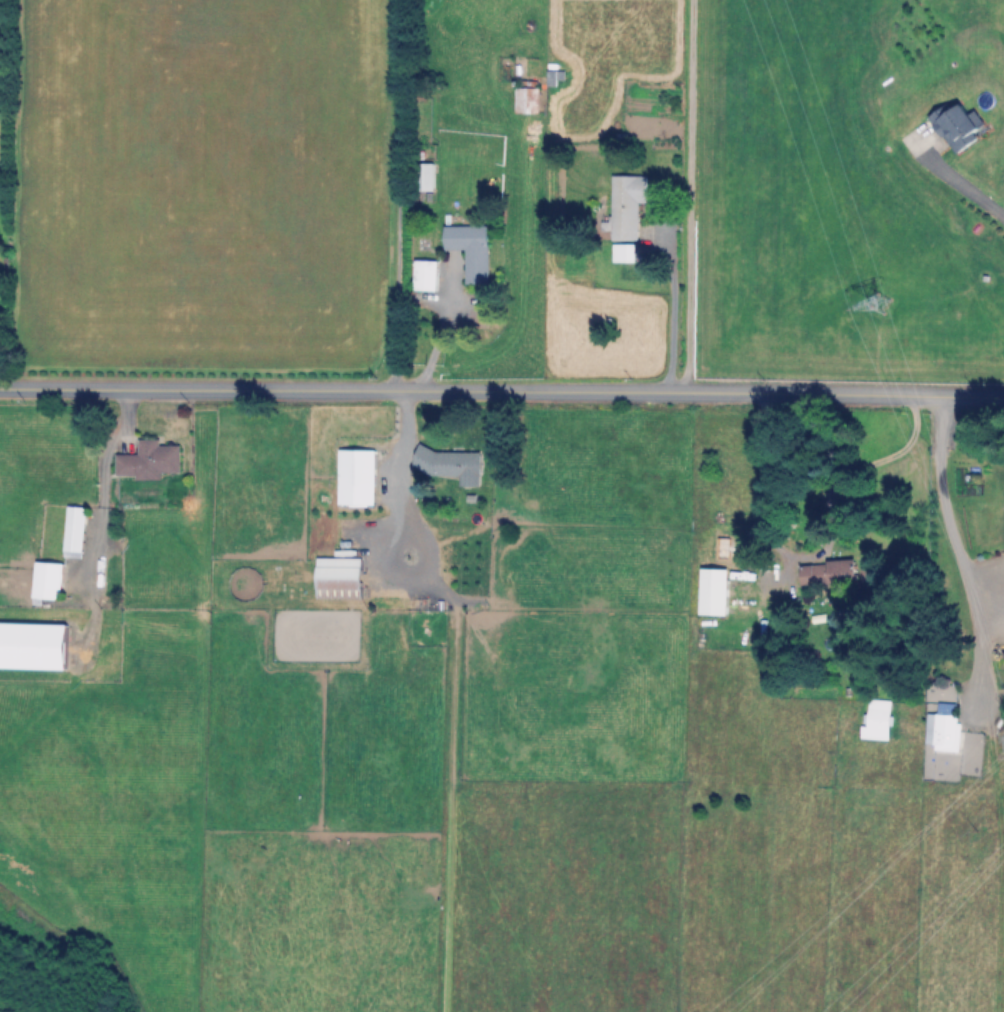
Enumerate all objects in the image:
building: (553, 77)
building: (529, 101)
building: (963, 125)
building: (426, 175)
road: (957, 175)
road: (394, 196)
road: (684, 198)
building: (629, 205)
building: (472, 250)
building: (427, 274)
power tower: (957, 295)
road: (666, 312)
road: (433, 334)
road: (502, 393)
building: (150, 460)
road: (849, 462)
building: (451, 463)
building: (372, 470)
road: (407, 480)
road: (101, 514)
building: (477, 517)
building: (76, 531)
road: (958, 552)
building: (845, 570)
building: (341, 578)
building: (49, 582)
building: (717, 596)
building: (34, 646)
building: (878, 719)
building: (944, 728)

